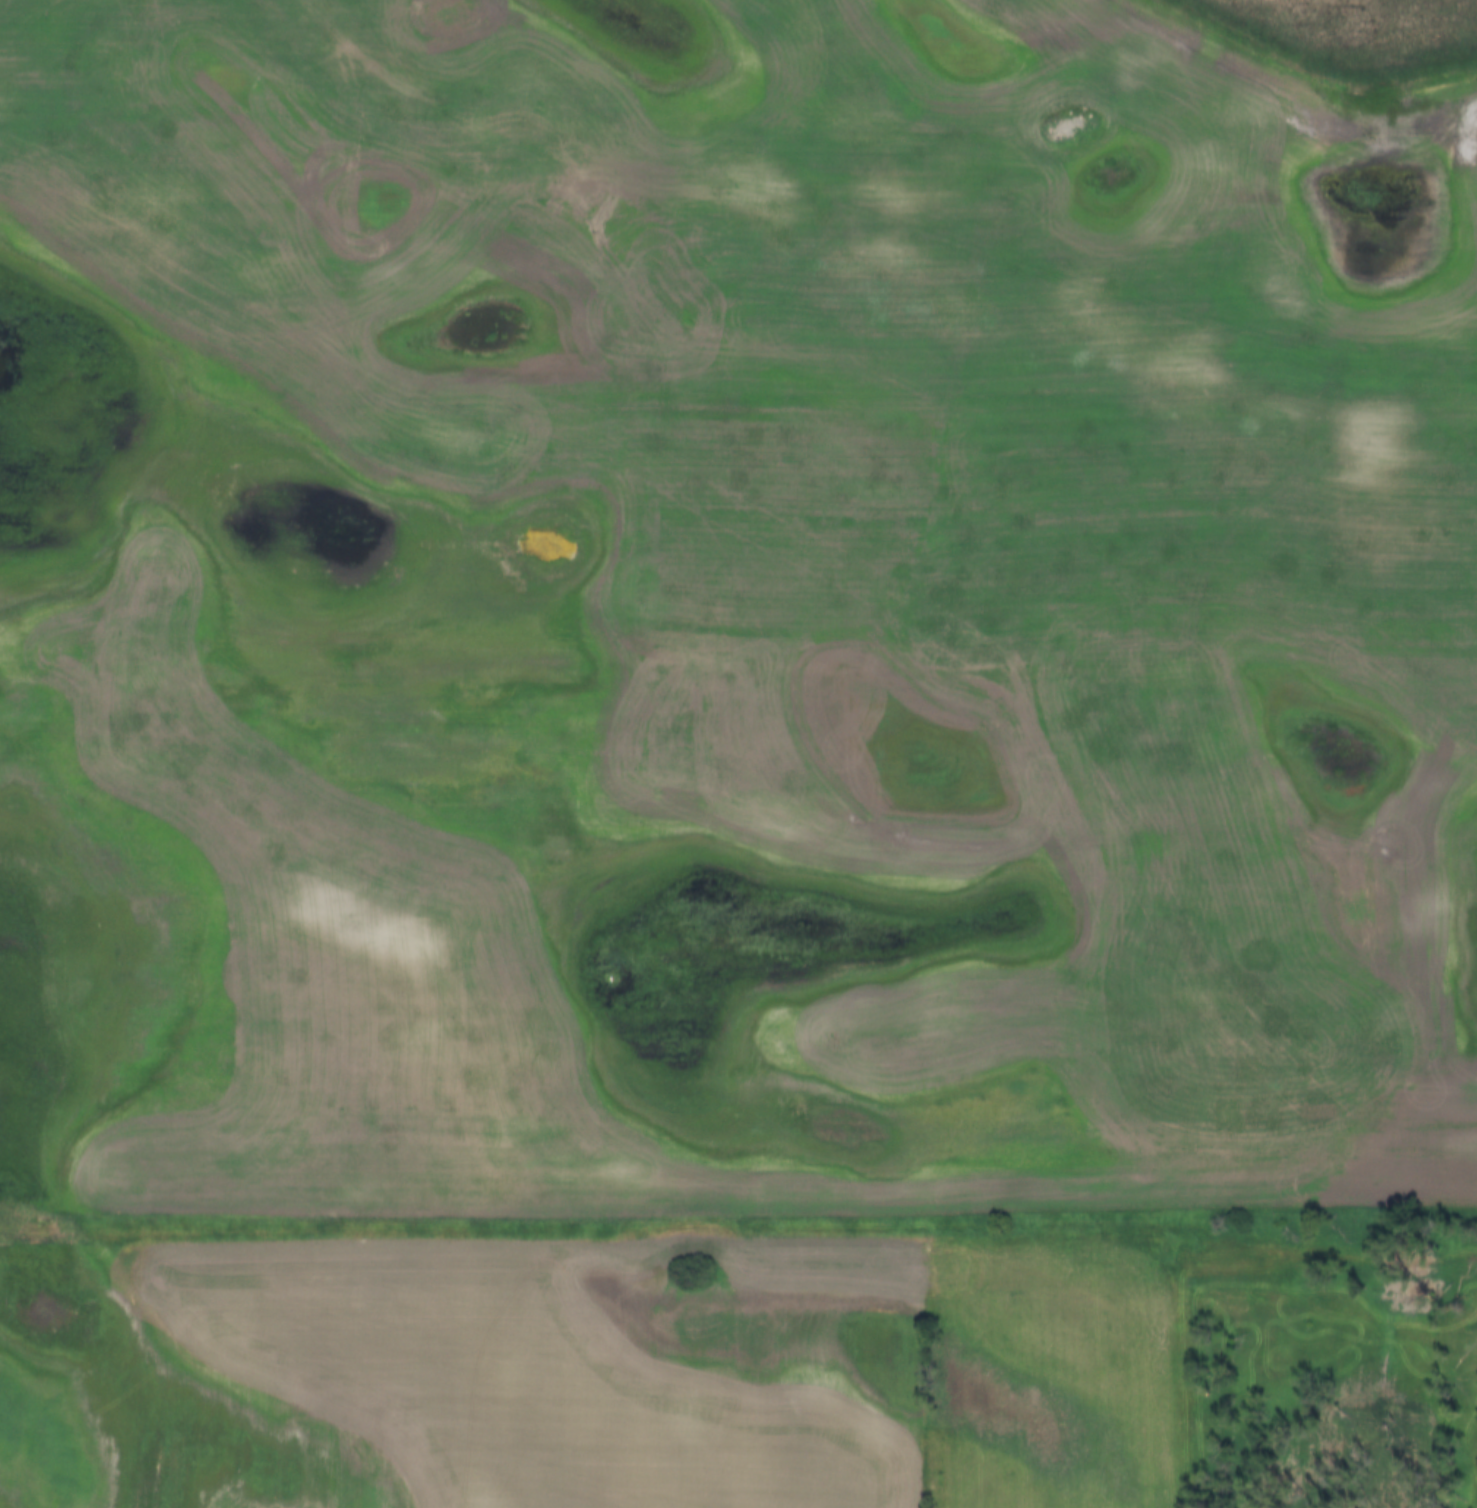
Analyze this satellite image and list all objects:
road: (751, 1233)

